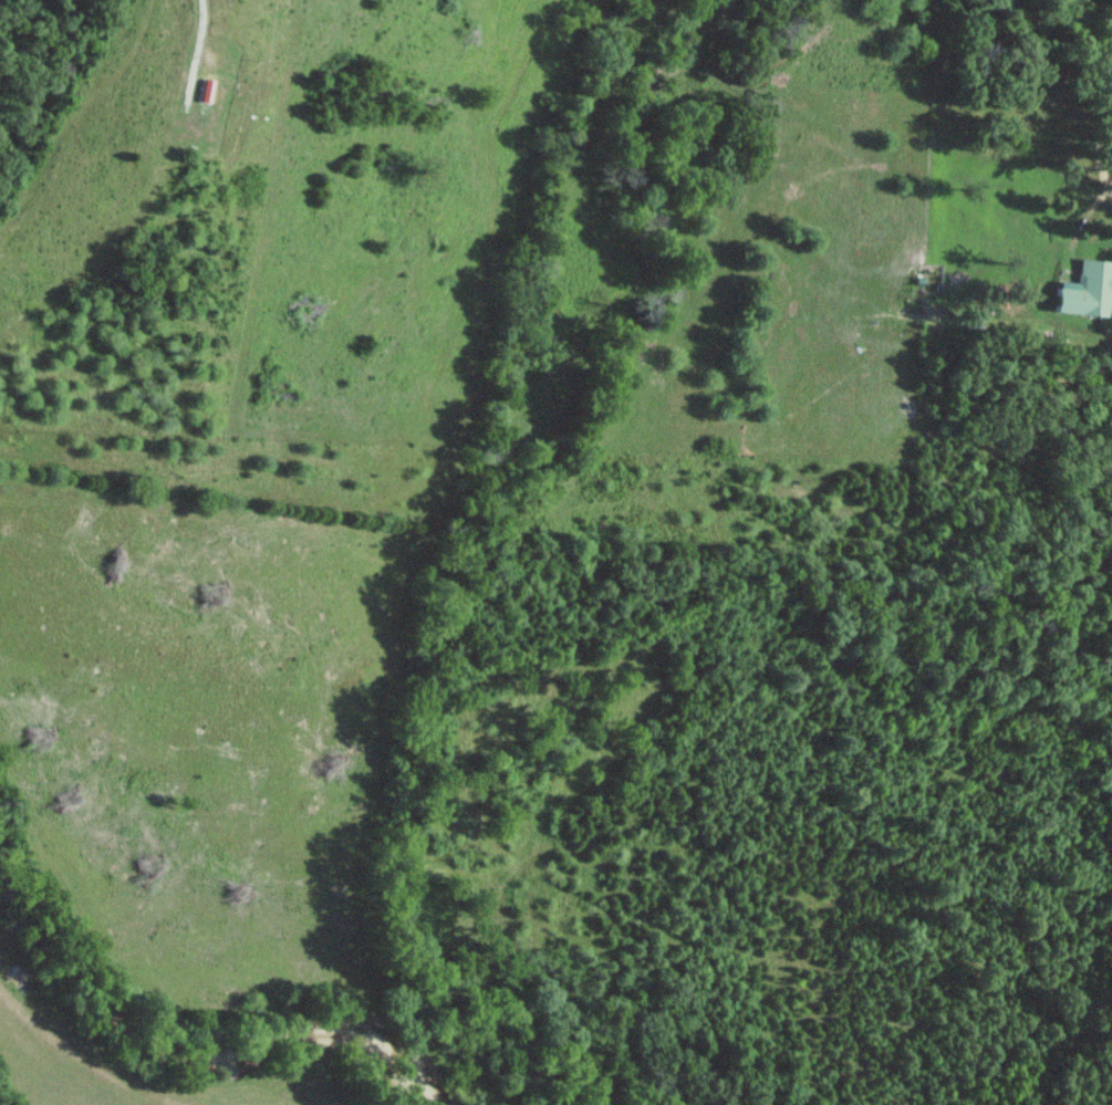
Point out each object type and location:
building: (1088, 291)

